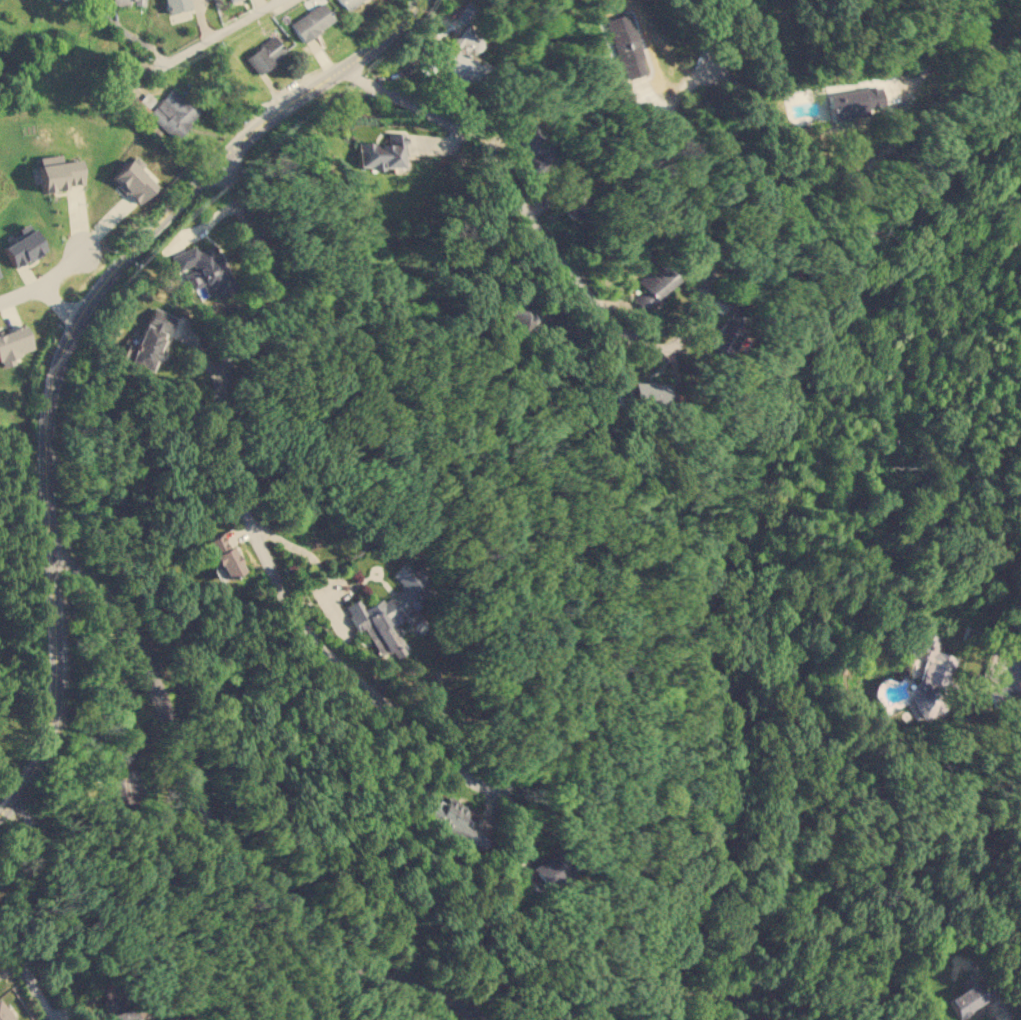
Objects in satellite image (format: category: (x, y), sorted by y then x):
building: (229, 0)
building: (124, 1)
building: (349, 3)
building: (176, 4)
building: (311, 21)
road: (694, 32)
road: (215, 35)
building: (627, 44)
building: (466, 53)
building: (265, 54)
building: (846, 103)
building: (173, 113)
road: (234, 149)
building: (381, 151)
building: (58, 172)
building: (132, 181)
building: (568, 205)
building: (23, 244)
road: (62, 267)
building: (204, 269)
building: (654, 284)
road: (42, 288)
building: (520, 314)
road: (616, 323)
building: (725, 330)
building: (150, 339)
building: (13, 344)
building: (648, 392)
road: (246, 509)
building: (222, 556)
road: (49, 572)
building: (390, 608)
road: (1010, 662)
building: (931, 675)
building: (996, 693)
building: (123, 785)
building: (453, 821)
road: (217, 830)
road: (15, 912)
building: (969, 997)
building: (117, 1002)
building: (4, 1014)

